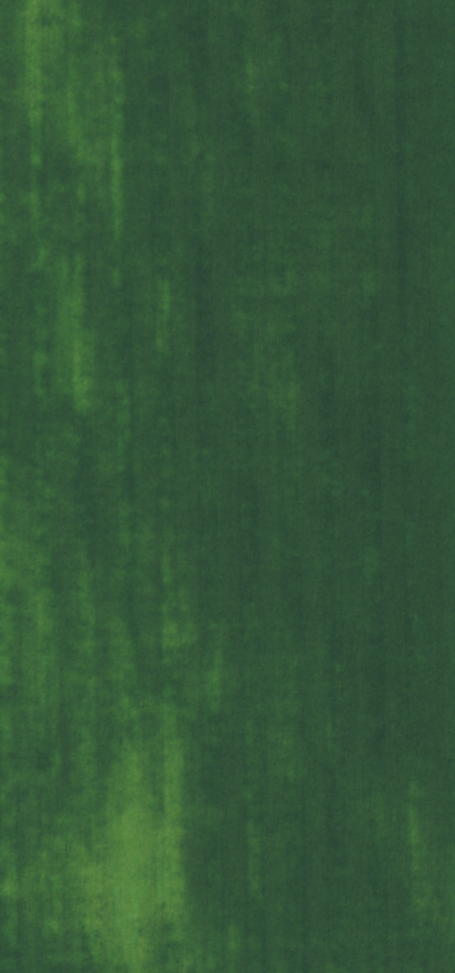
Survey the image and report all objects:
crop: (227, 486)

